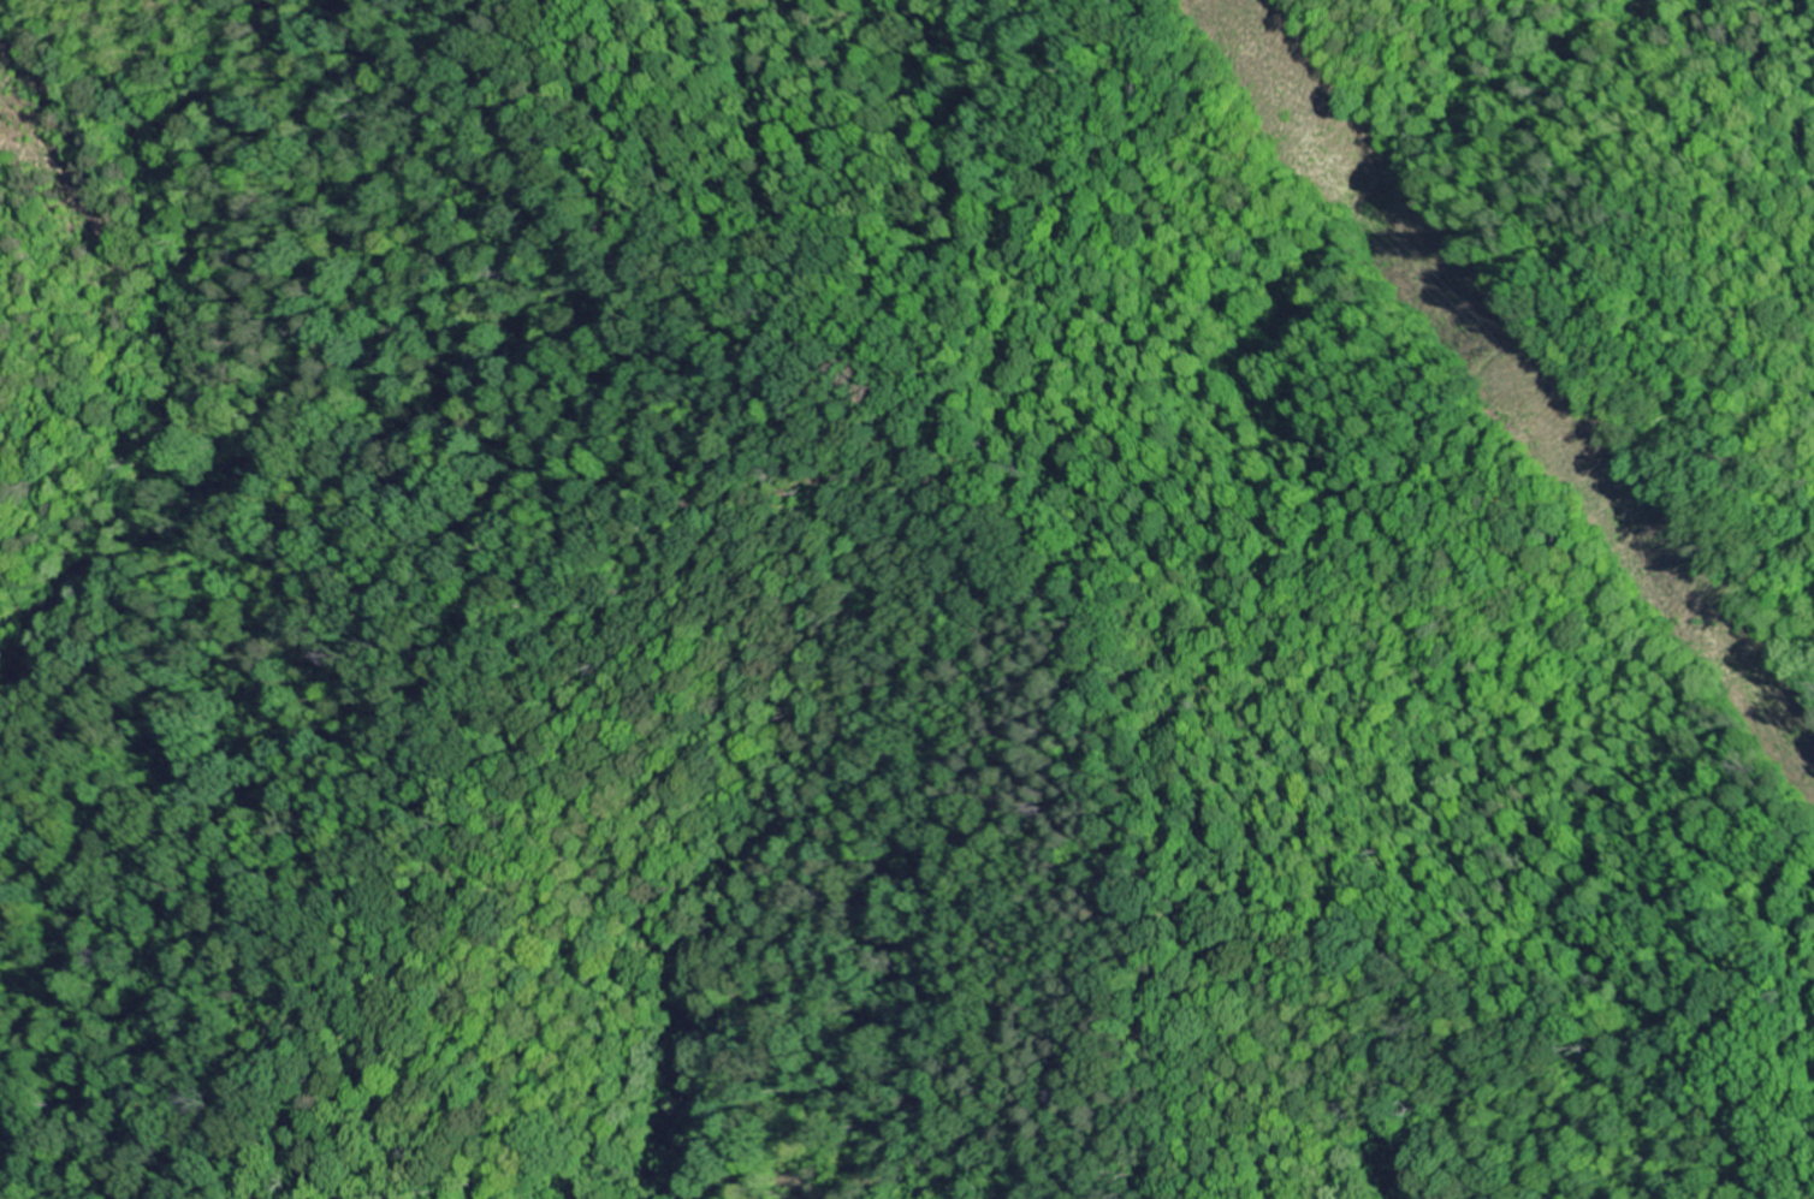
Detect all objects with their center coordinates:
road: (1776, 67)

